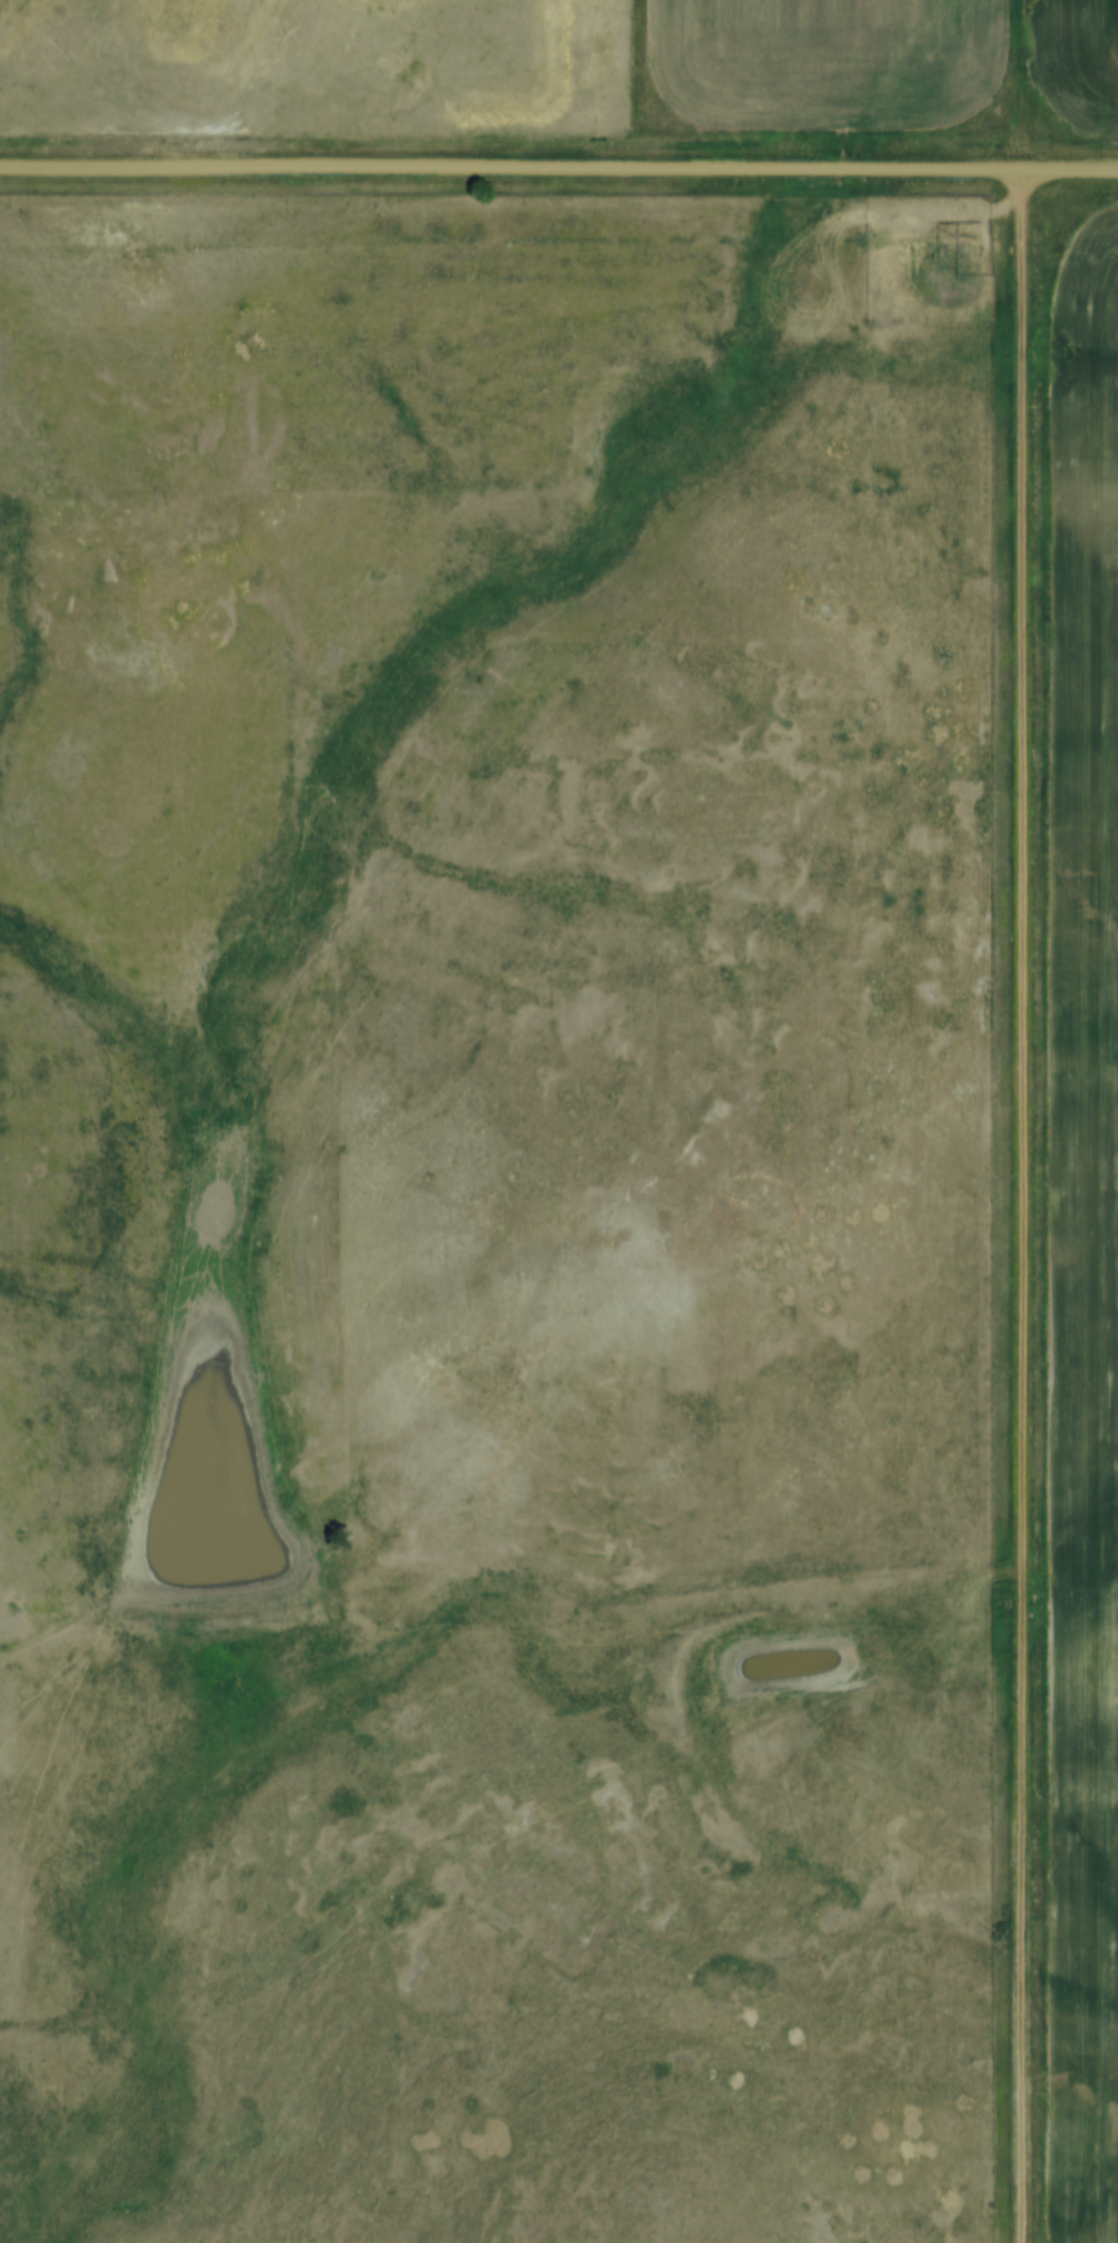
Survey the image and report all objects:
road: (558, 169)
road: (1020, 1207)

